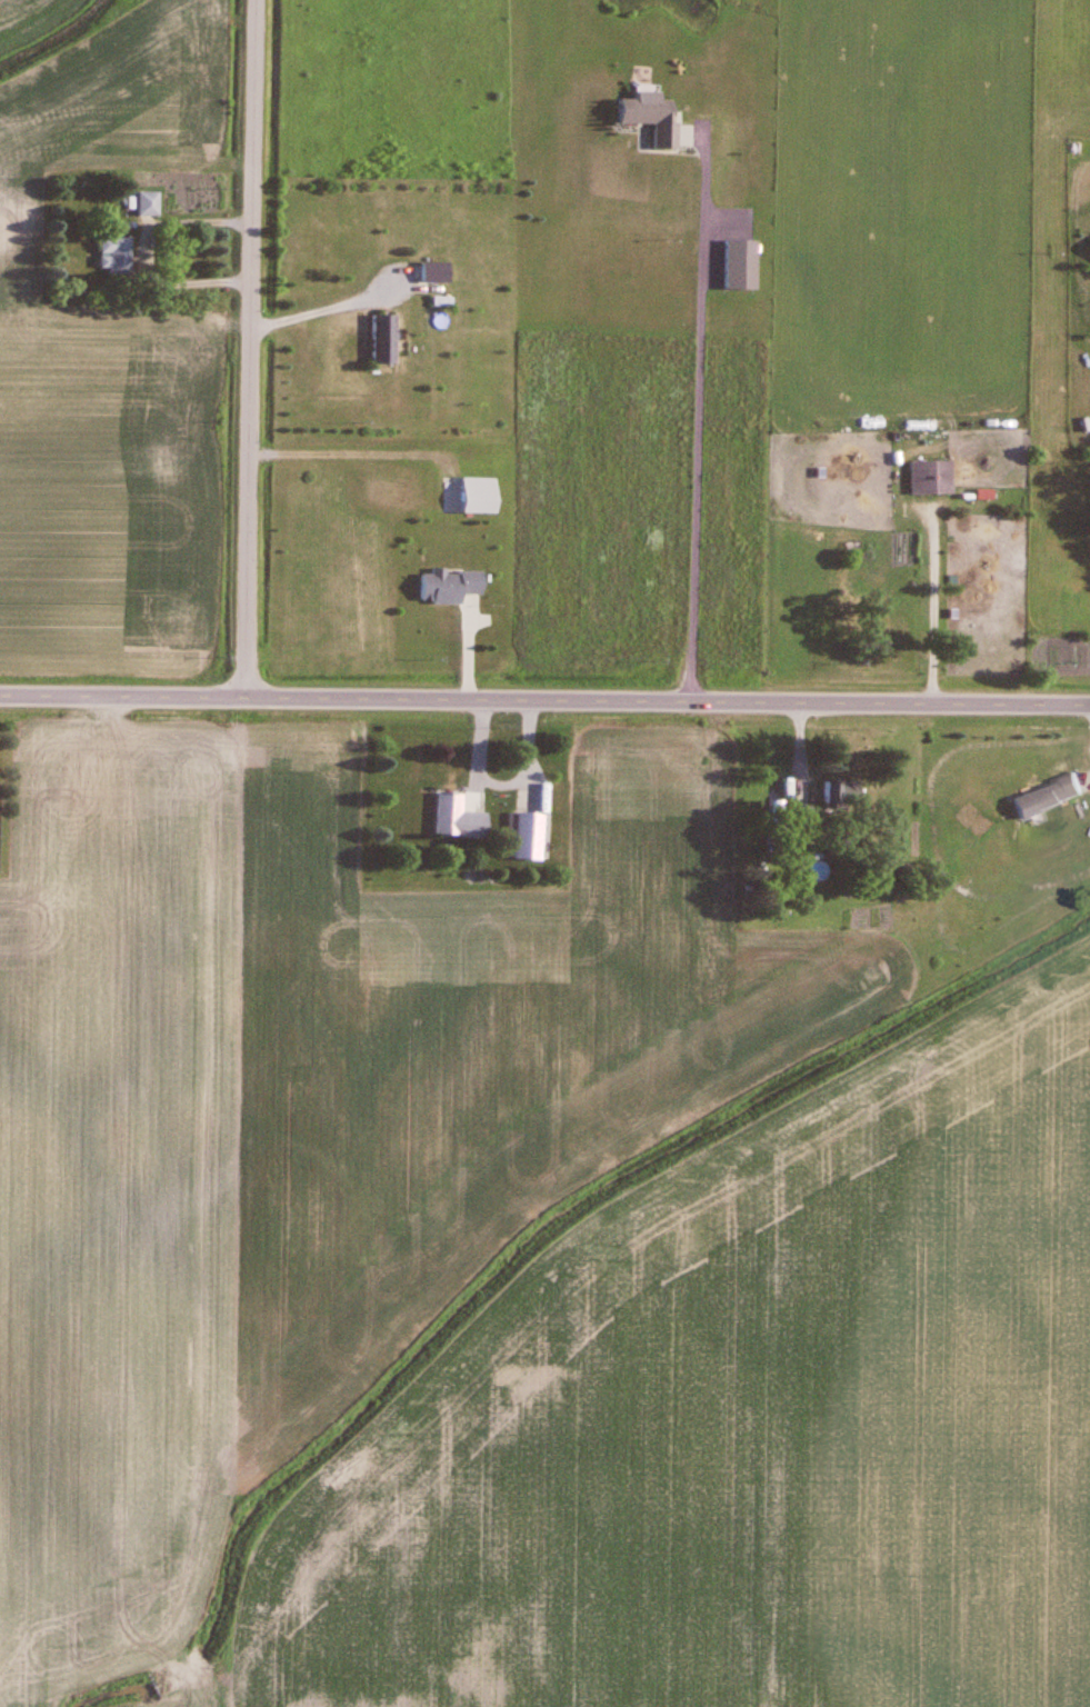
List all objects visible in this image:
building: (648, 119)
building: (148, 204)
road: (144, 251)
building: (114, 256)
building: (740, 266)
building: (433, 272)
road: (319, 313)
building: (381, 339)
road: (256, 351)
road: (699, 423)
road: (371, 452)
building: (932, 478)
road: (1088, 480)
building: (477, 497)
building: (449, 587)
road: (544, 705)
building: (839, 793)
building: (1048, 798)
building: (457, 819)
building: (524, 837)

